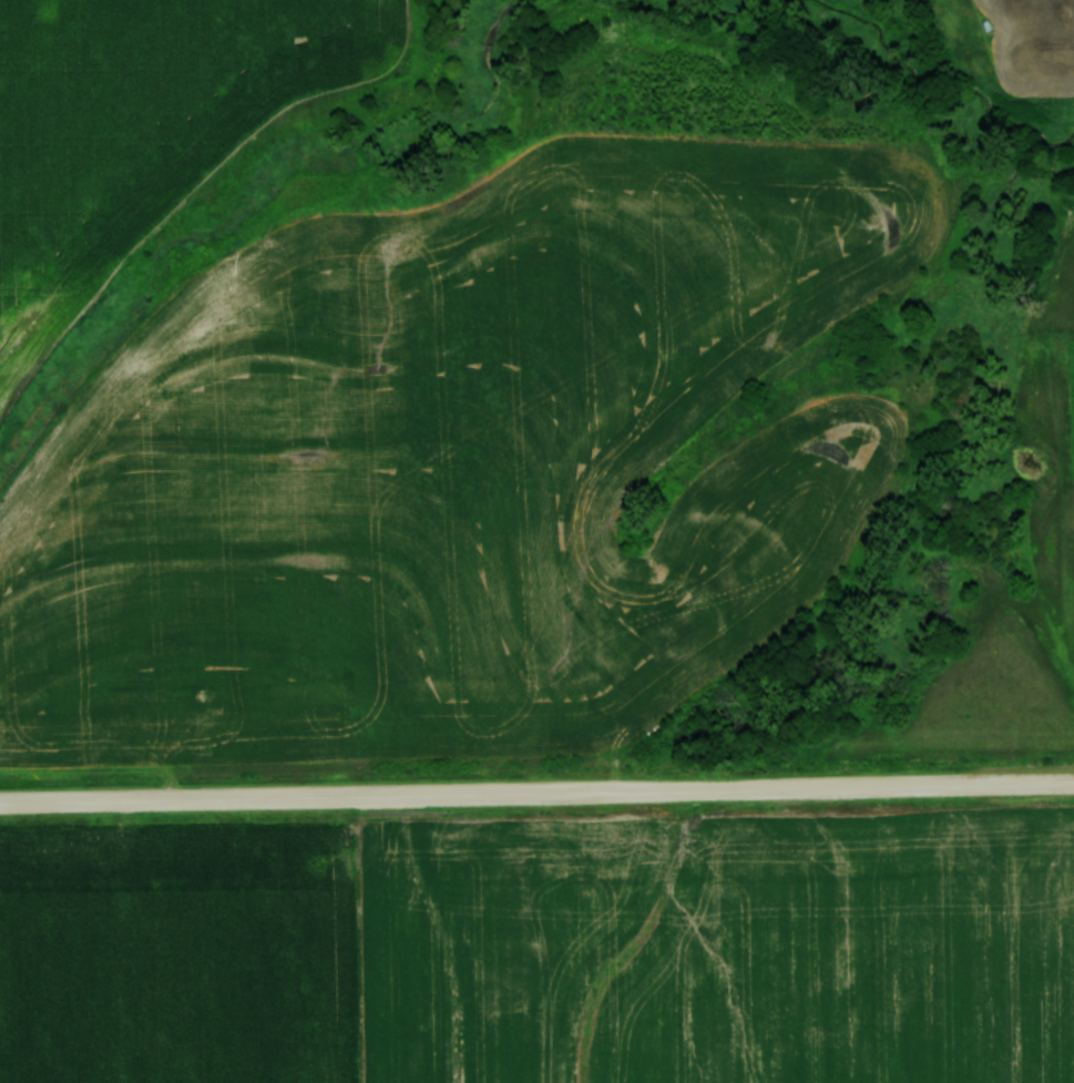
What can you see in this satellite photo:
road: (536, 790)

